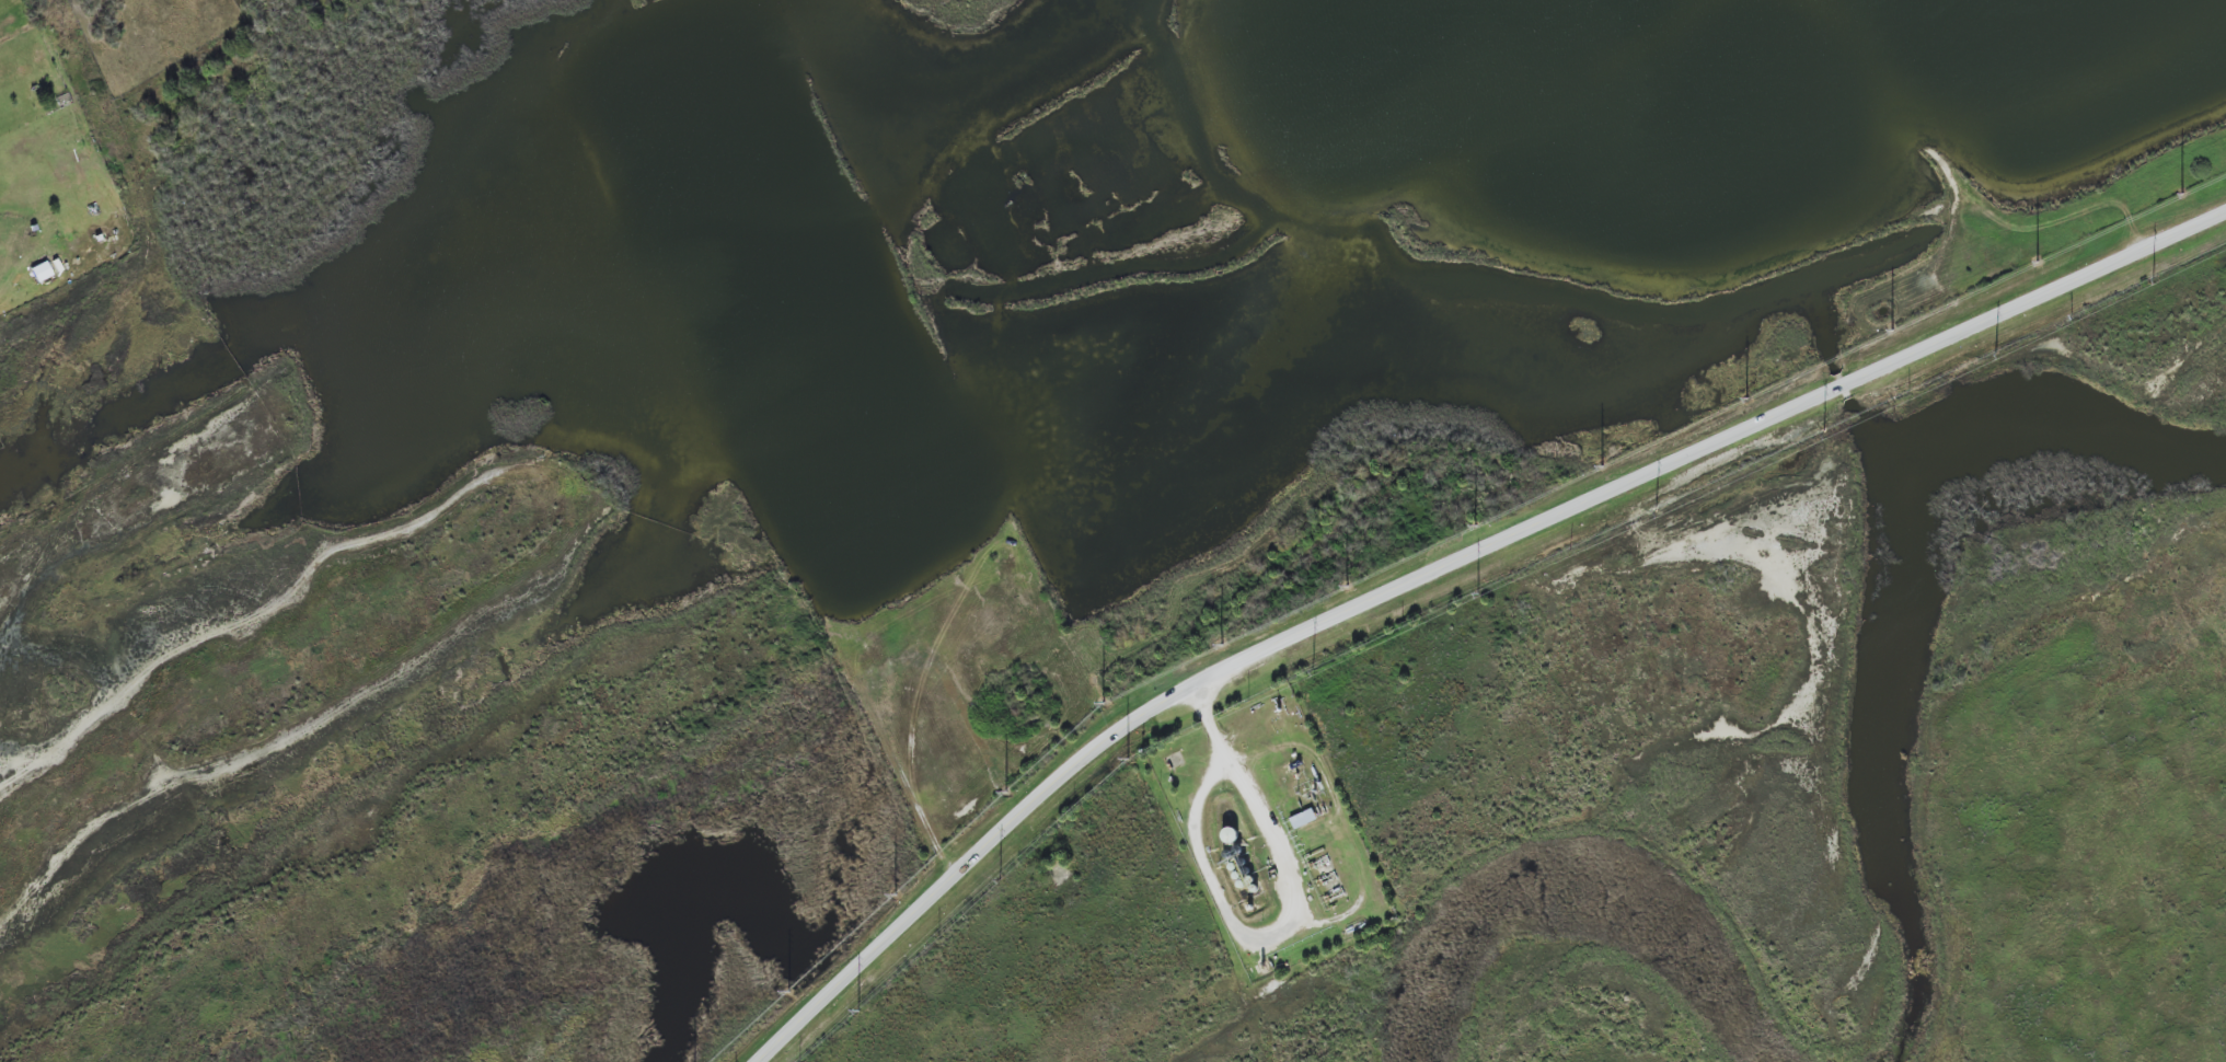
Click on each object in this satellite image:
building: (41, 272)
road: (1446, 565)
road: (1209, 726)
building: (1302, 819)
building: (1229, 836)
building: (1242, 863)
building: (1232, 867)
building: (1245, 871)
building: (1236, 876)
building: (1249, 880)
building: (1241, 885)
building: (1254, 889)
road: (1261, 934)

